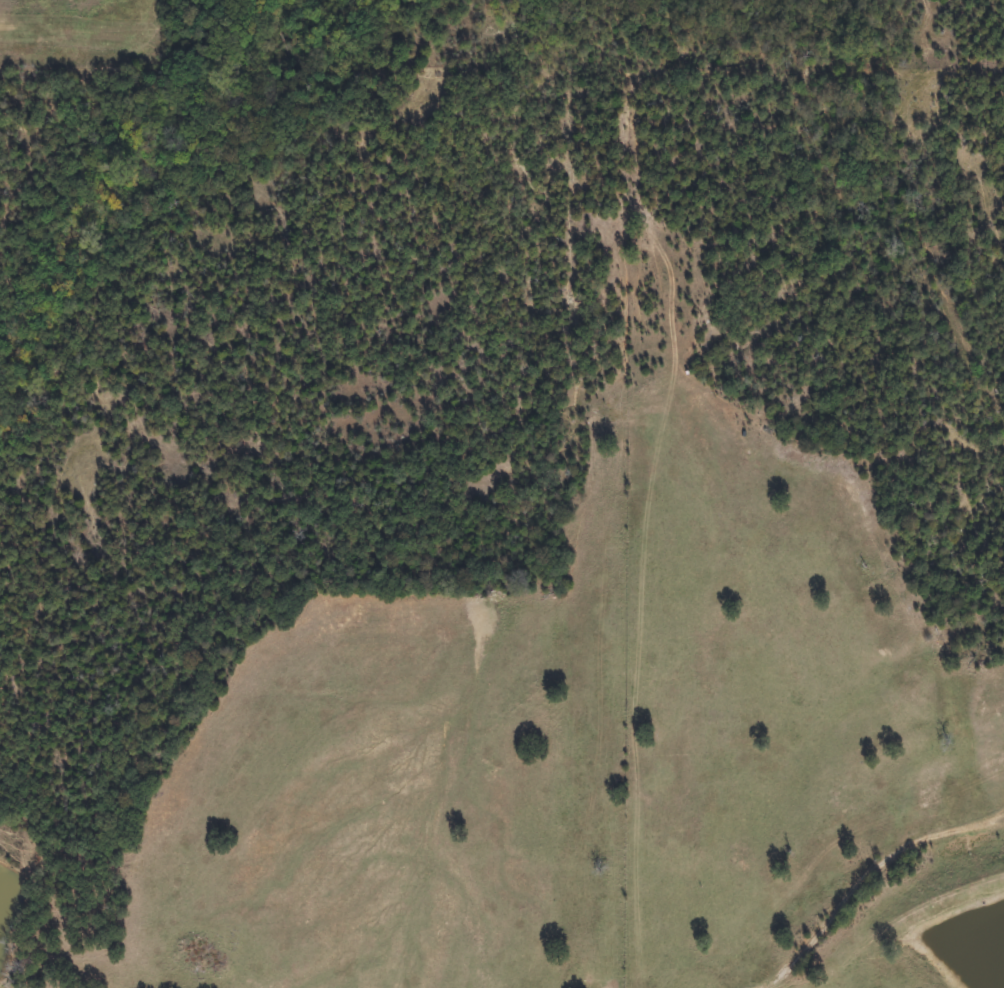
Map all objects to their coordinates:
road: (865, 876)

